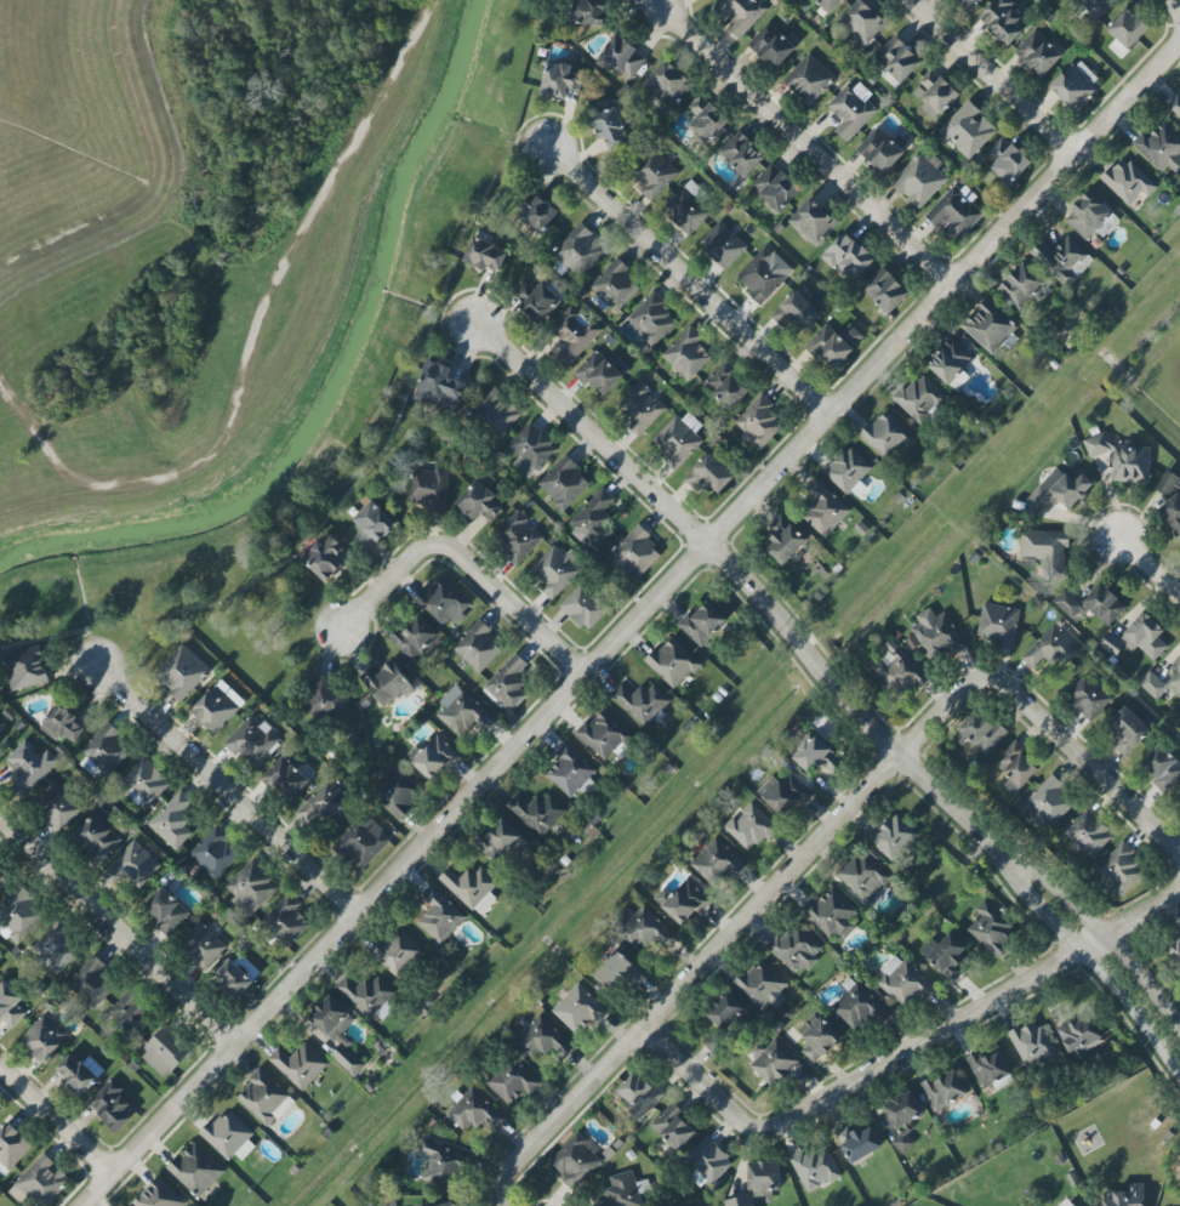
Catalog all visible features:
building: (969, 4)
building: (828, 5)
building: (1094, 7)
road: (1174, 10)
building: (588, 11)
building: (740, 13)
building: (1003, 21)
building: (861, 23)
building: (1125, 32)
building: (773, 44)
building: (1037, 53)
building: (621, 57)
building: (897, 61)
road: (991, 75)
building: (809, 79)
building: (559, 80)
building: (668, 84)
building: (1074, 87)
building: (936, 92)
building: (1175, 106)
building: (851, 110)
building: (706, 118)
building: (611, 127)
building: (968, 130)
road: (799, 142)
building: (1159, 148)
building: (880, 149)
building: (742, 153)
building: (1007, 160)
building: (654, 173)
building: (918, 181)
building: (1127, 181)
building: (775, 187)
building: (688, 207)
building: (954, 212)
building: (540, 215)
building: (1088, 215)
building: (811, 222)
building: (722, 244)
building: (580, 250)
building: (485, 256)
building: (848, 256)
building: (1062, 260)
building: (763, 274)
road: (685, 278)
building: (1022, 285)
building: (885, 291)
building: (536, 301)
building: (798, 311)
building: (651, 319)
building: (990, 328)
building: (574, 334)
building: (834, 343)
building: (686, 353)
building: (951, 360)
building: (600, 371)
building: (726, 385)
building: (439, 387)
building: (919, 398)
building: (639, 408)
building: (495, 414)
building: (759, 421)
road: (588, 431)
building: (887, 436)
building: (678, 439)
building: (530, 450)
building: (1122, 459)
building: (849, 471)
building: (709, 474)
building: (563, 483)
building: (429, 487)
building: (1060, 489)
building: (479, 504)
building: (1169, 504)
building: (823, 508)
building: (593, 519)
building: (372, 524)
building: (518, 537)
building: (783, 540)
building: (1047, 550)
building: (635, 554)
building: (326, 558)
road: (458, 558)
road: (1147, 568)
building: (555, 571)
road: (745, 584)
building: (441, 602)
building: (1068, 604)
building: (1104, 604)
building: (583, 607)
road: (632, 616)
building: (702, 624)
building: (997, 625)
building: (936, 635)
building: (414, 638)
building: (1138, 638)
building: (478, 647)
building: (1051, 648)
road: (810, 656)
building: (672, 662)
building: (25, 667)
building: (897, 671)
building: (181, 672)
building: (1162, 682)
building: (386, 683)
building: (508, 683)
building: (1088, 696)
building: (326, 699)
building: (640, 702)
building: (215, 709)
building: (463, 711)
building: (1179, 722)
building: (62, 724)
building: (1127, 730)
building: (979, 732)
building: (0, 735)
building: (603, 735)
building: (252, 740)
building: (106, 749)
building: (816, 756)
building: (435, 757)
road: (1085, 762)
building: (29, 766)
building: (1015, 767)
building: (1162, 767)
building: (570, 770)
building: (285, 778)
road: (922, 778)
building: (144, 783)
road: (227, 790)
building: (397, 792)
building: (785, 792)
building: (1179, 800)
building: (1050, 802)
building: (326, 803)
building: (57, 807)
building: (537, 813)
building: (172, 820)
building: (749, 826)
building: (1088, 834)
building: (98, 835)
building: (893, 836)
building: (363, 841)
building: (502, 843)
building: (213, 853)
building: (717, 863)
building: (132, 865)
building: (1119, 869)
building: (863, 876)
building: (2, 880)
building: (472, 887)
building: (251, 888)
building: (685, 901)
building: (166, 909)
building: (21, 914)
building: (830, 914)
building: (439, 915)
building: (286, 921)
building: (644, 928)
building: (991, 928)
road: (118, 932)
building: (1179, 932)
road: (729, 934)
road: (1106, 935)
building: (201, 944)
building: (57, 948)
building: (796, 948)
building: (1175, 950)
building: (398, 951)
building: (948, 956)
building: (0, 968)
road: (1098, 971)
building: (616, 972)
building: (902, 982)
building: (92, 983)
building: (759, 984)
building: (367, 996)
building: (10, 1005)
building: (857, 1006)
building: (578, 1008)
building: (724, 1011)
building: (131, 1014)
building: (337, 1033)
building: (1081, 1036)
building: (44, 1037)
building: (542, 1039)
building: (820, 1040)
building: (1031, 1043)
road: (903, 1051)
building: (165, 1052)
building: (771, 1060)
building: (298, 1064)
building: (987, 1068)
building: (79, 1073)
building: (512, 1080)
building: (944, 1090)
building: (638, 1094)
building: (264, 1098)
building: (113, 1104)
building: (902, 1109)
building: (474, 1111)
road: (58, 1115)
building: (673, 1127)
building: (229, 1137)
building: (859, 1140)
building: (902, 1140)
building: (11, 1145)
building: (576, 1159)
building: (708, 1160)
building: (441, 1165)
building: (815, 1167)
building: (195, 1170)
building: (759, 1184)
building: (621, 1191)
building: (158, 1195)
building: (1127, 1196)
building: (449, 1204)
building: (1070, 1204)

